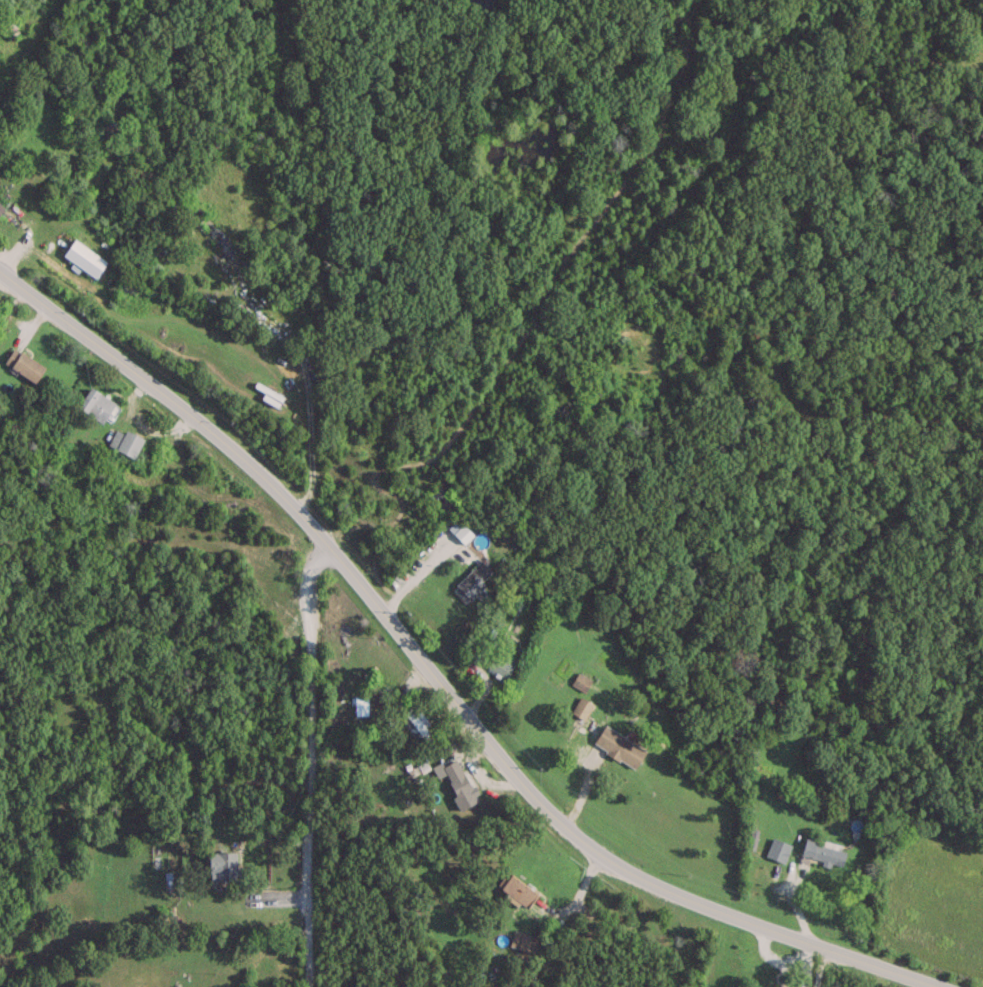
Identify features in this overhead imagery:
building: (1, 207)
building: (211, 226)
building: (84, 257)
building: (24, 364)
road: (300, 368)
building: (269, 394)
road: (168, 398)
building: (97, 404)
building: (125, 441)
building: (462, 533)
building: (472, 580)
building: (501, 663)
building: (580, 682)
building: (581, 707)
building: (619, 747)
road: (299, 761)
building: (459, 783)
building: (785, 794)
road: (577, 836)
building: (777, 849)
building: (823, 852)
building: (224, 866)
building: (517, 889)
building: (169, 927)
building: (523, 939)
road: (819, 967)
building: (765, 986)

